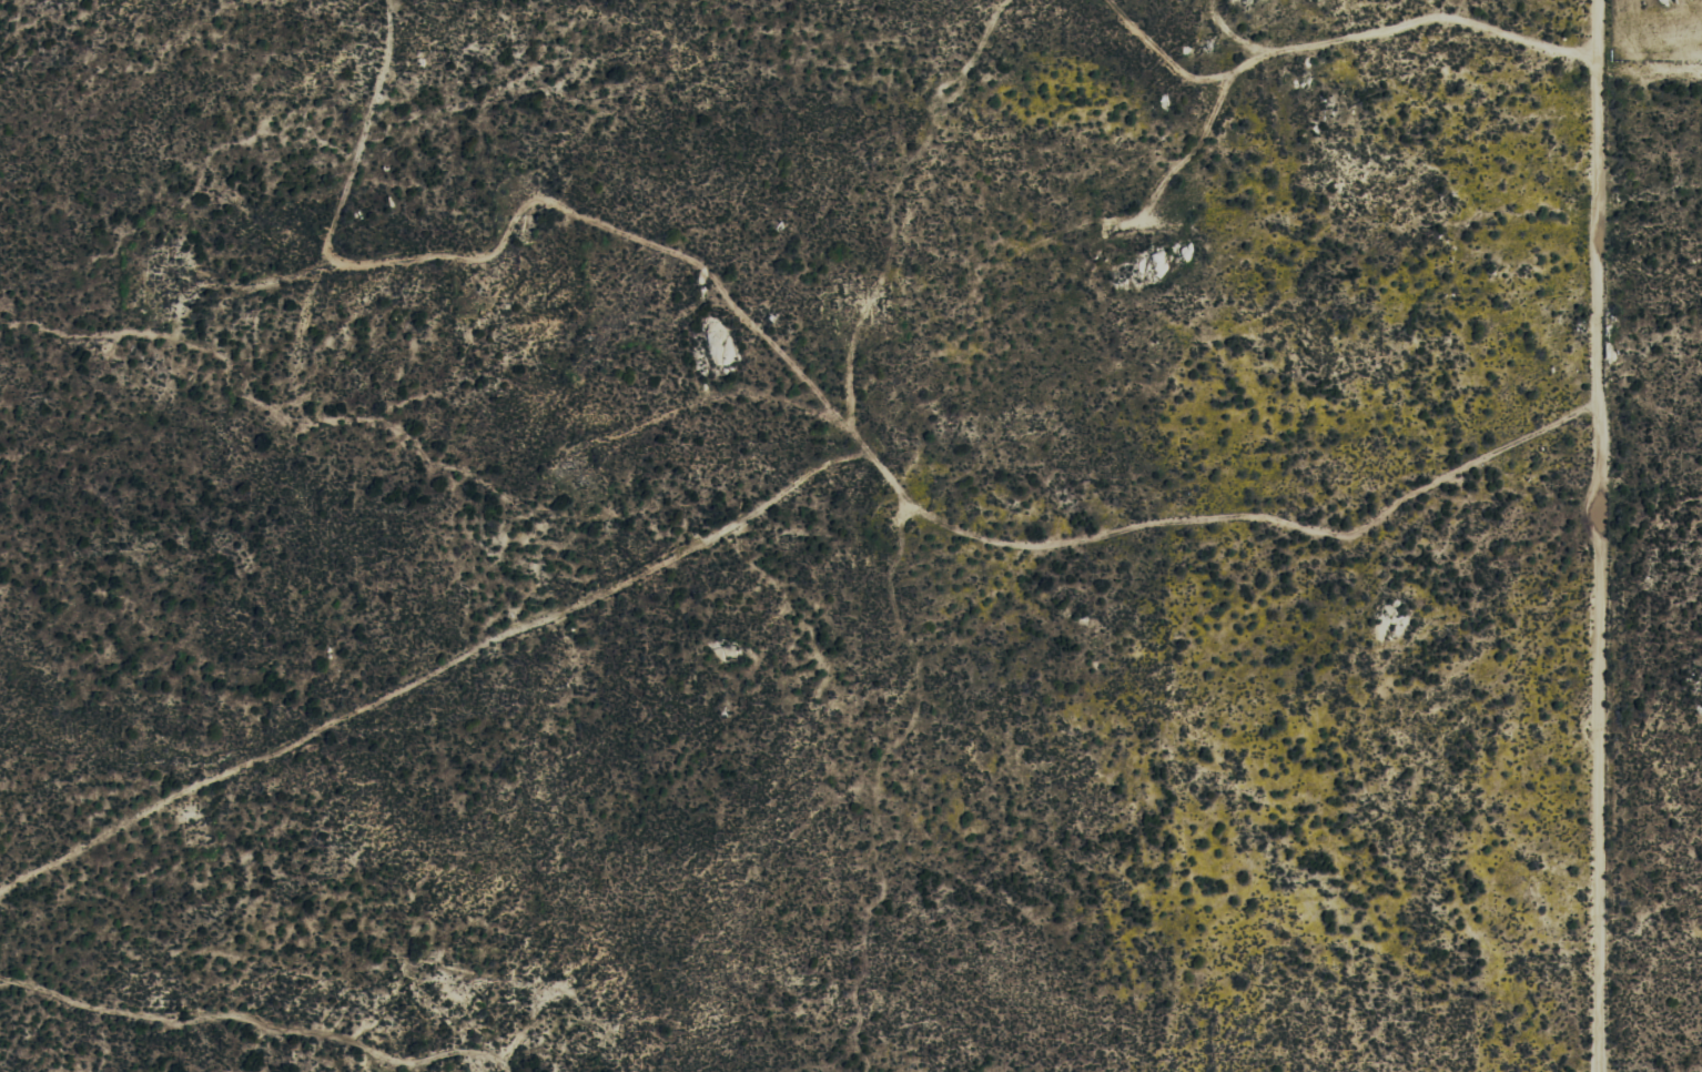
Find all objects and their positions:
road: (1595, 535)

